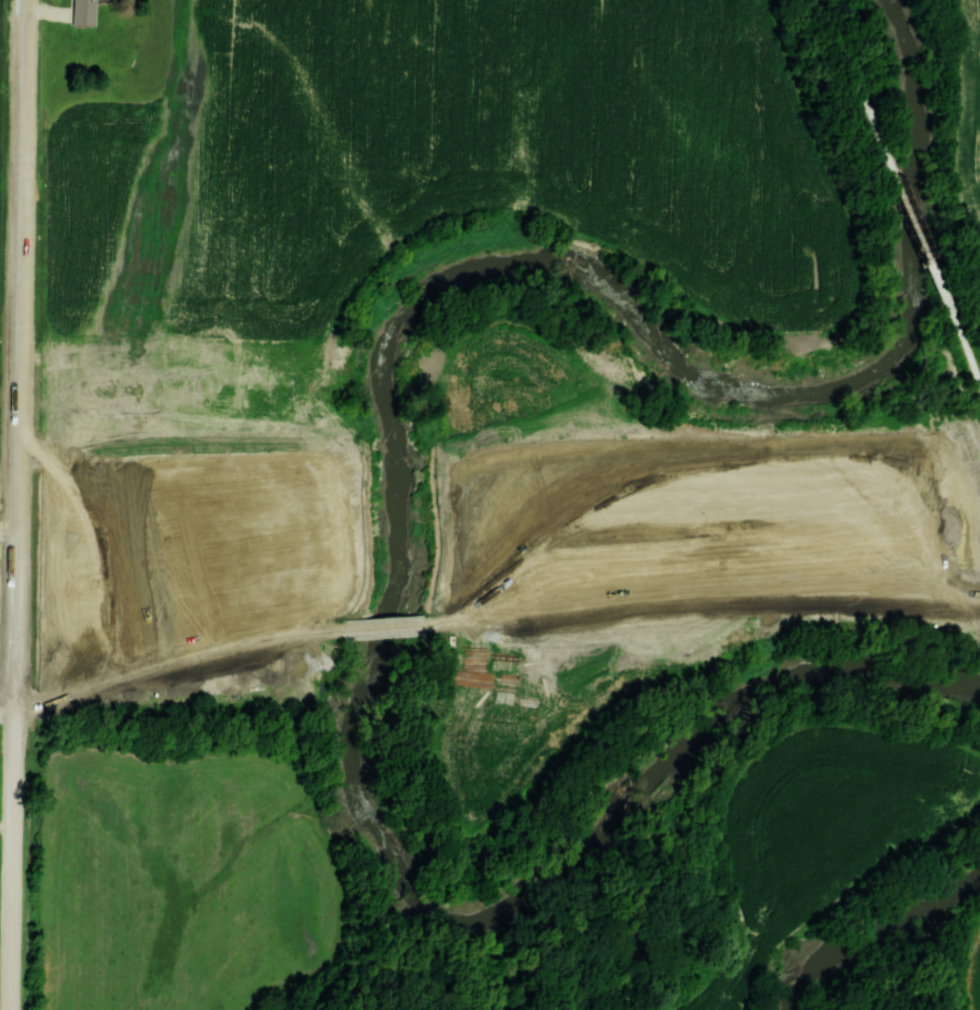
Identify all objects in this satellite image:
building: (83, 12)
road: (847, 60)
road: (912, 217)
road: (965, 350)
road: (25, 360)
river: (396, 485)
road: (702, 595)
road: (386, 626)
road: (178, 659)
road: (16, 865)
river: (877, 932)

